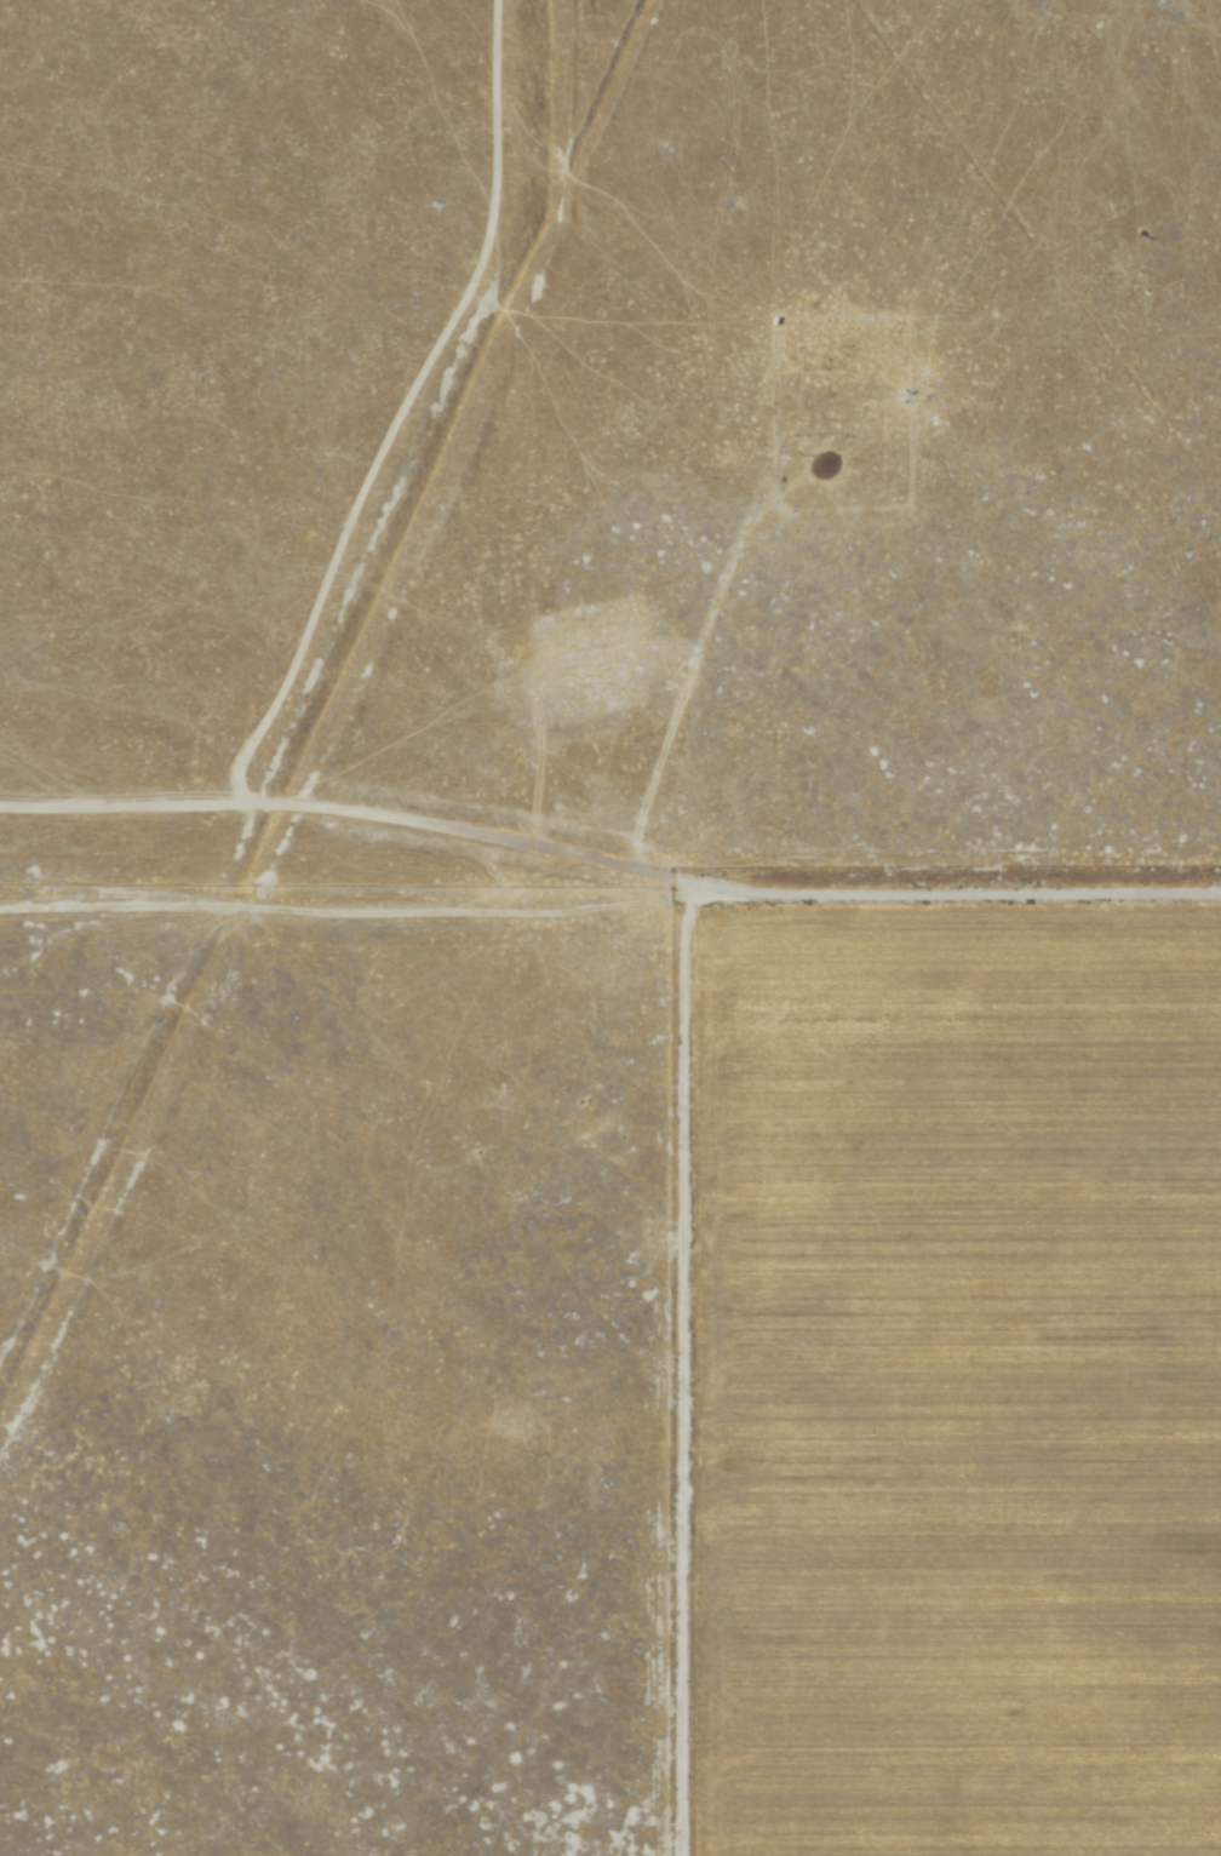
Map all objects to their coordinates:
road: (608, 870)
road: (680, 1371)
crop: (955, 1381)

